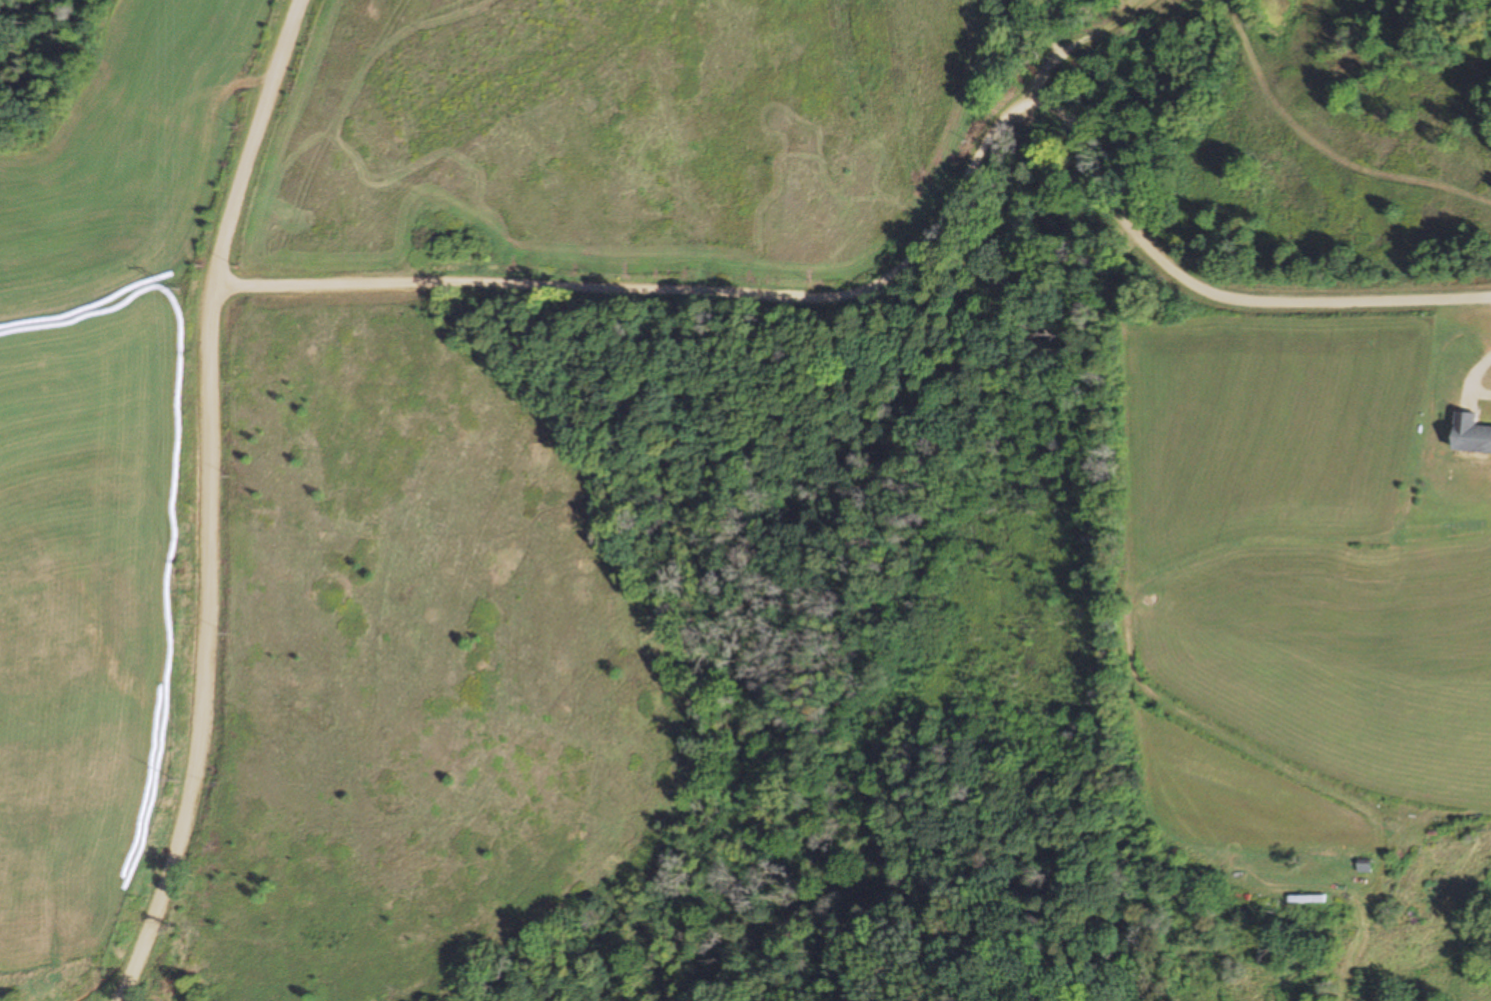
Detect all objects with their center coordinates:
road: (896, 260)
power tower: (175, 287)
building: (1469, 434)
road: (227, 501)
building: (1363, 865)
building: (1304, 899)

